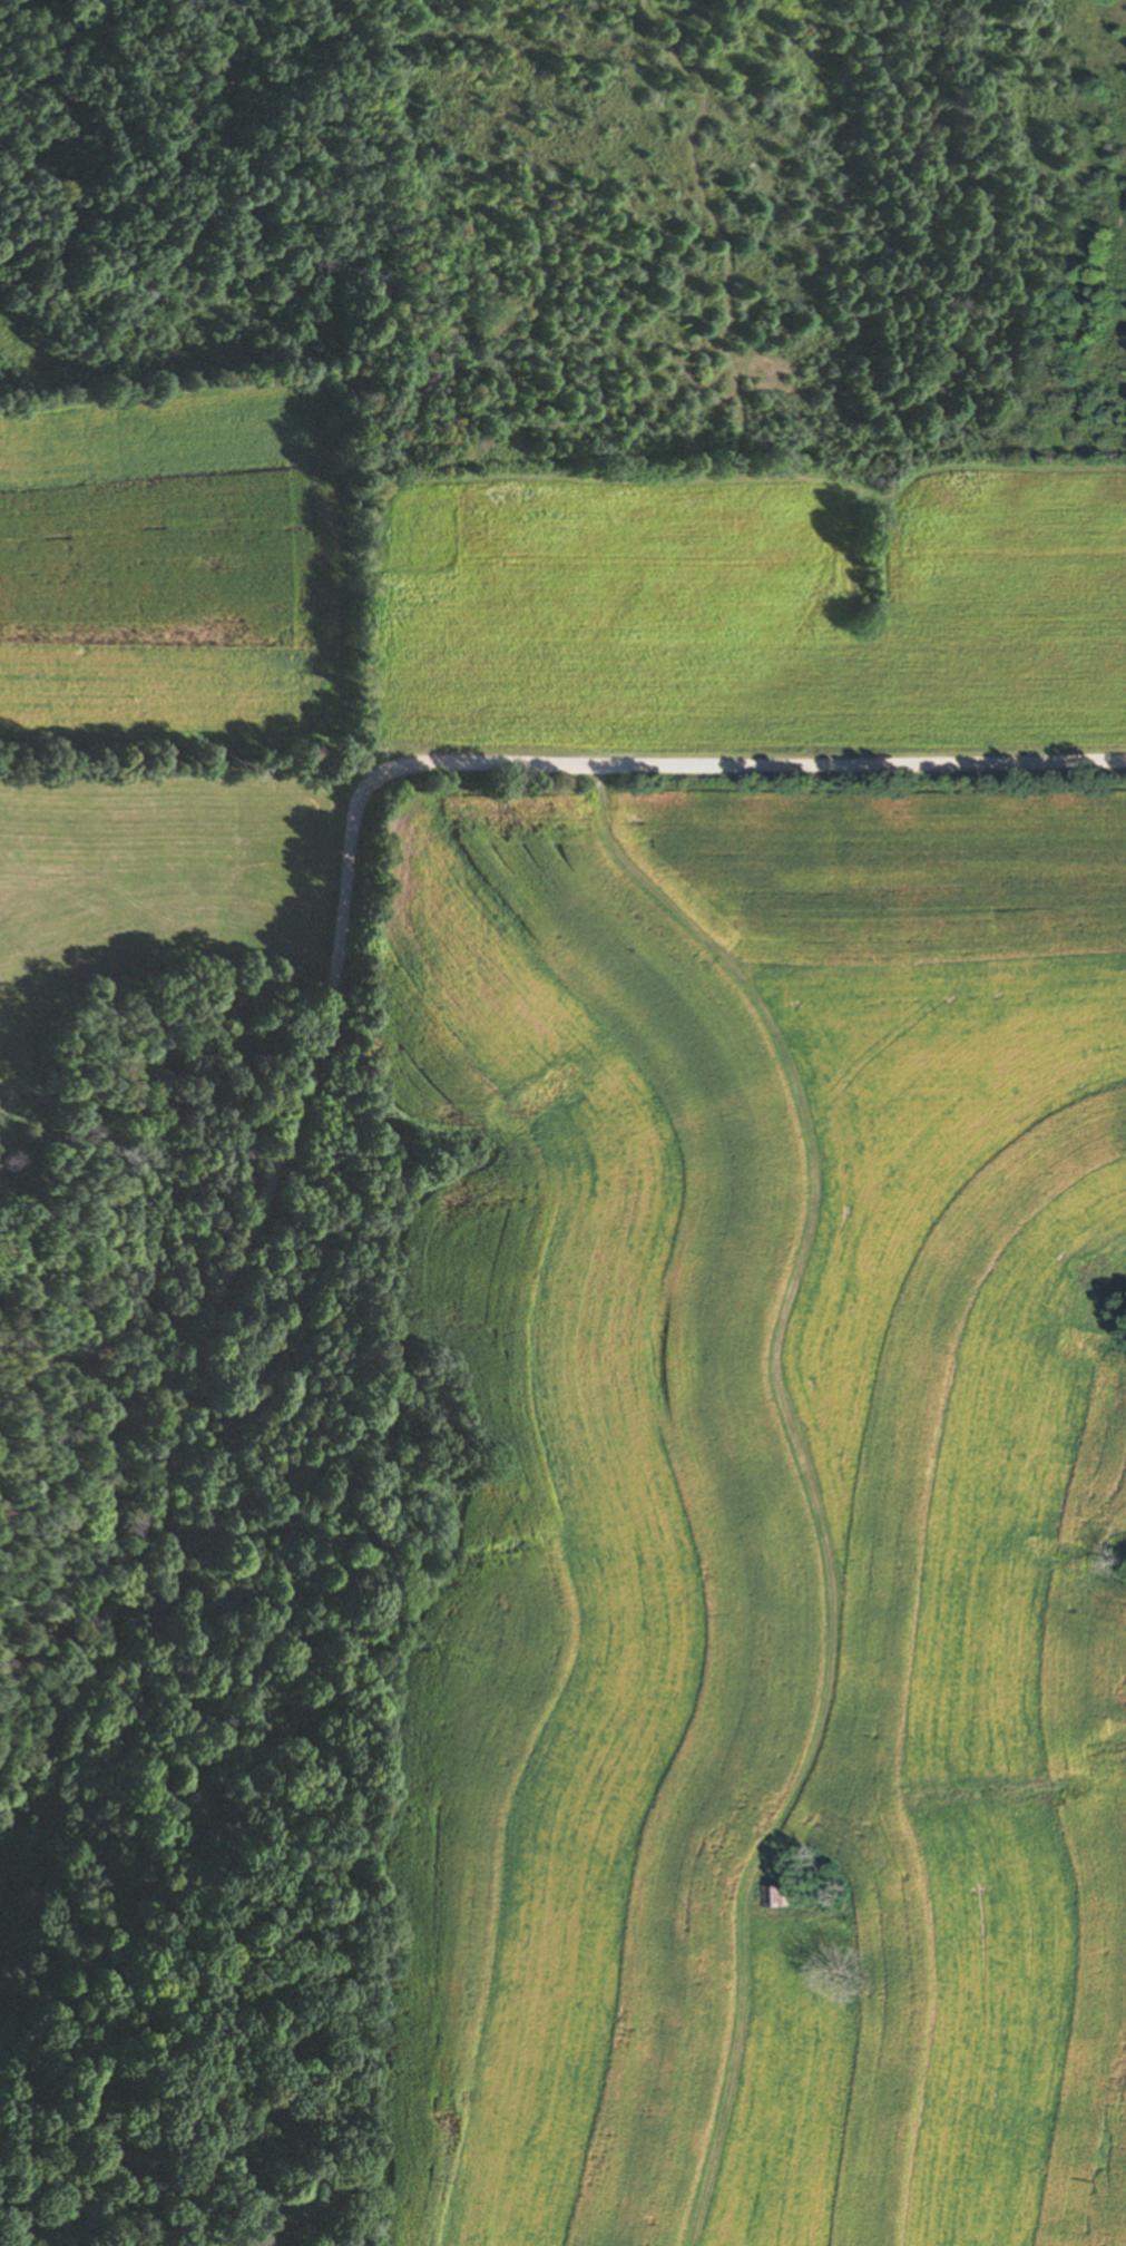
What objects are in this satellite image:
crop: (175, 573)
crop: (156, 883)
road: (335, 925)
road: (820, 1250)
building: (782, 1895)

